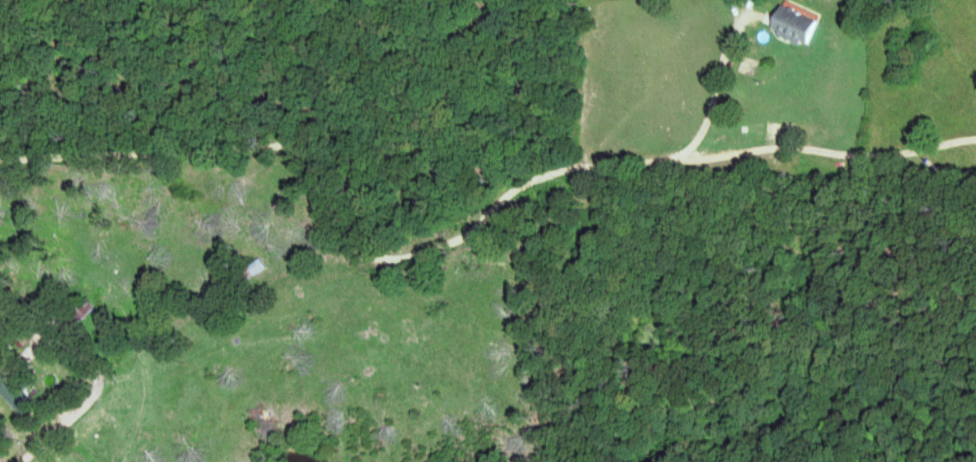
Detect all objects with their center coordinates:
building: (800, 25)
road: (720, 85)
road: (468, 235)
building: (19, 390)
road: (60, 426)

